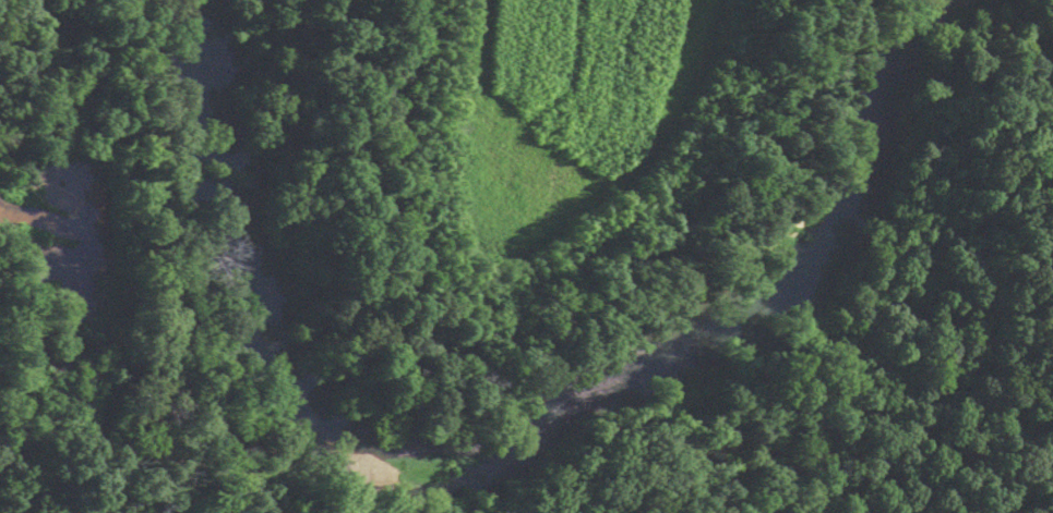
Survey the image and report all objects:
river: (508, 454)

